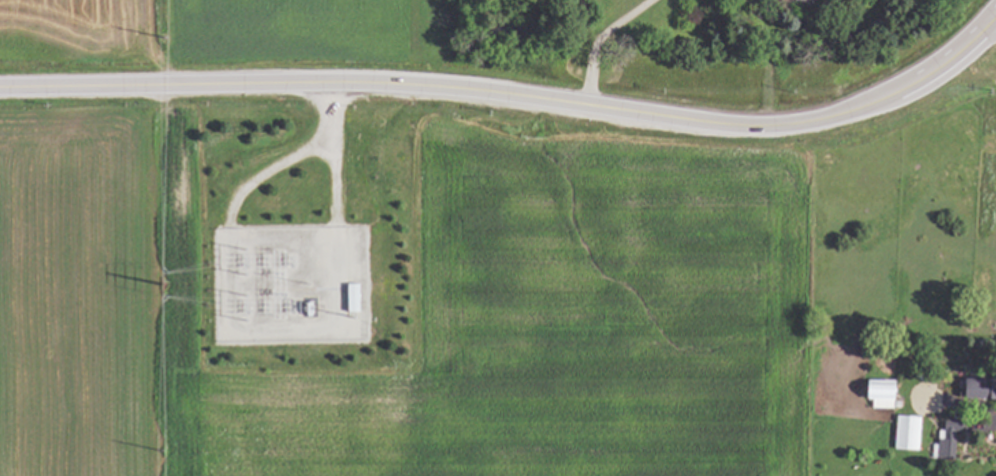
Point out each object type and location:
building: (785, 4)
road: (599, 40)
road: (514, 94)
road: (330, 146)
road: (271, 168)
power substation: (290, 285)
building: (355, 298)
building: (971, 388)
building: (873, 392)
road: (981, 426)
building: (903, 432)
building: (945, 441)

